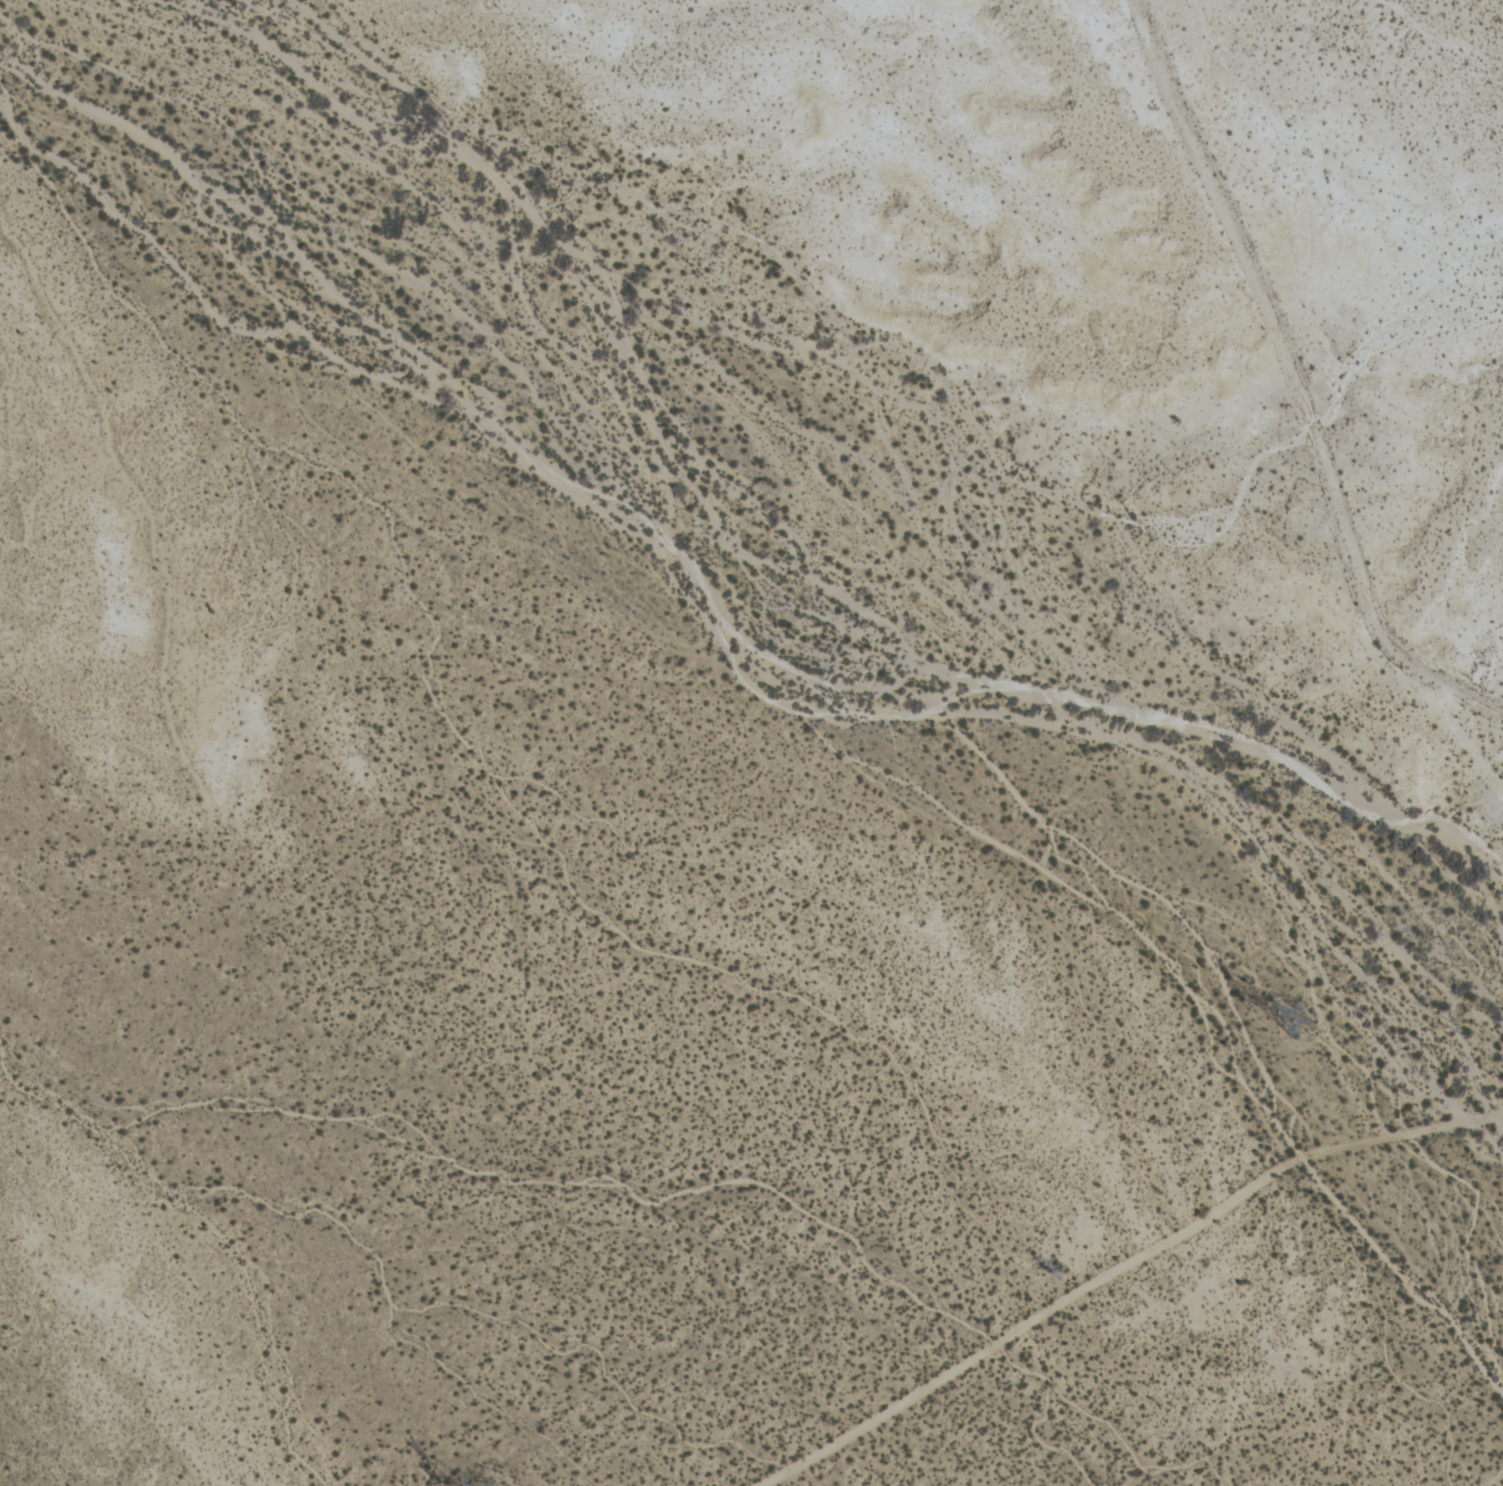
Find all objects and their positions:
power tower: (1489, 1010)
power tower: (1296, 1019)
power tower: (1060, 1266)

